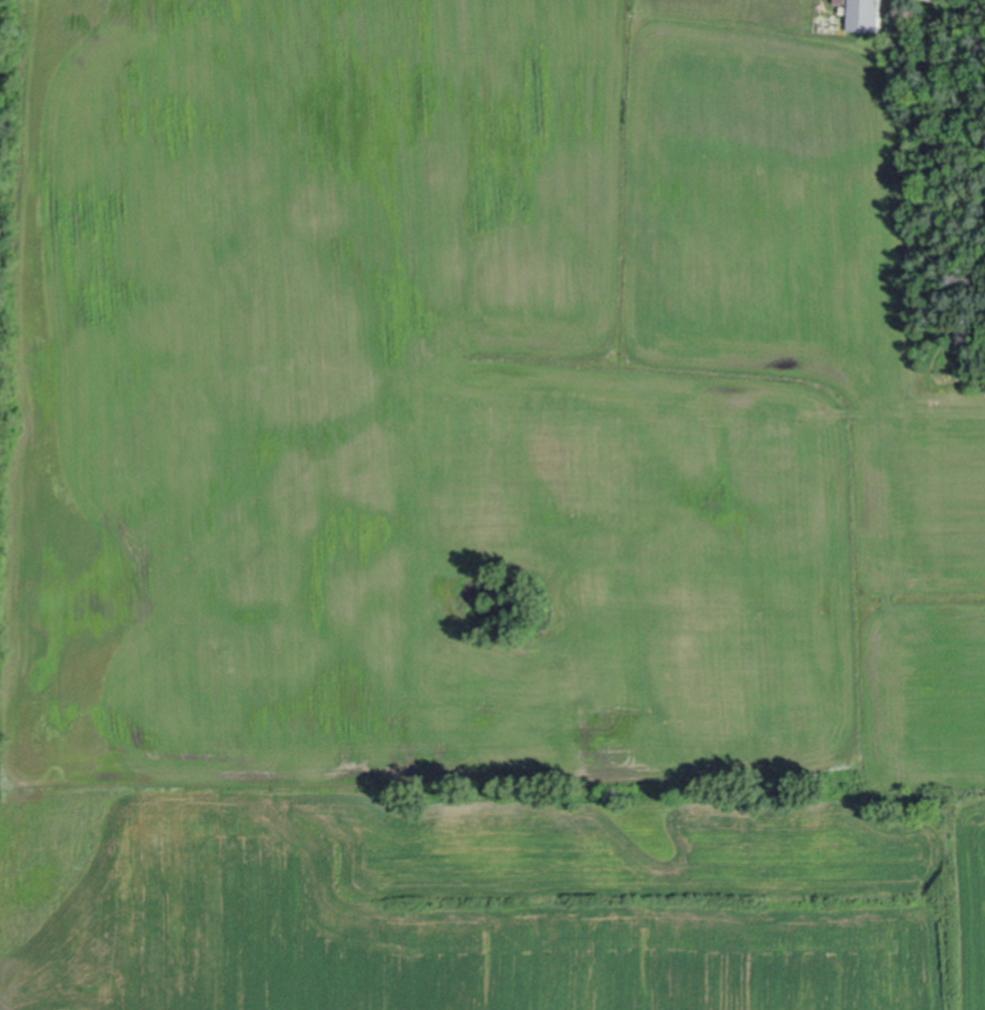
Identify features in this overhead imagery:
road: (946, 0)
building: (864, 14)

